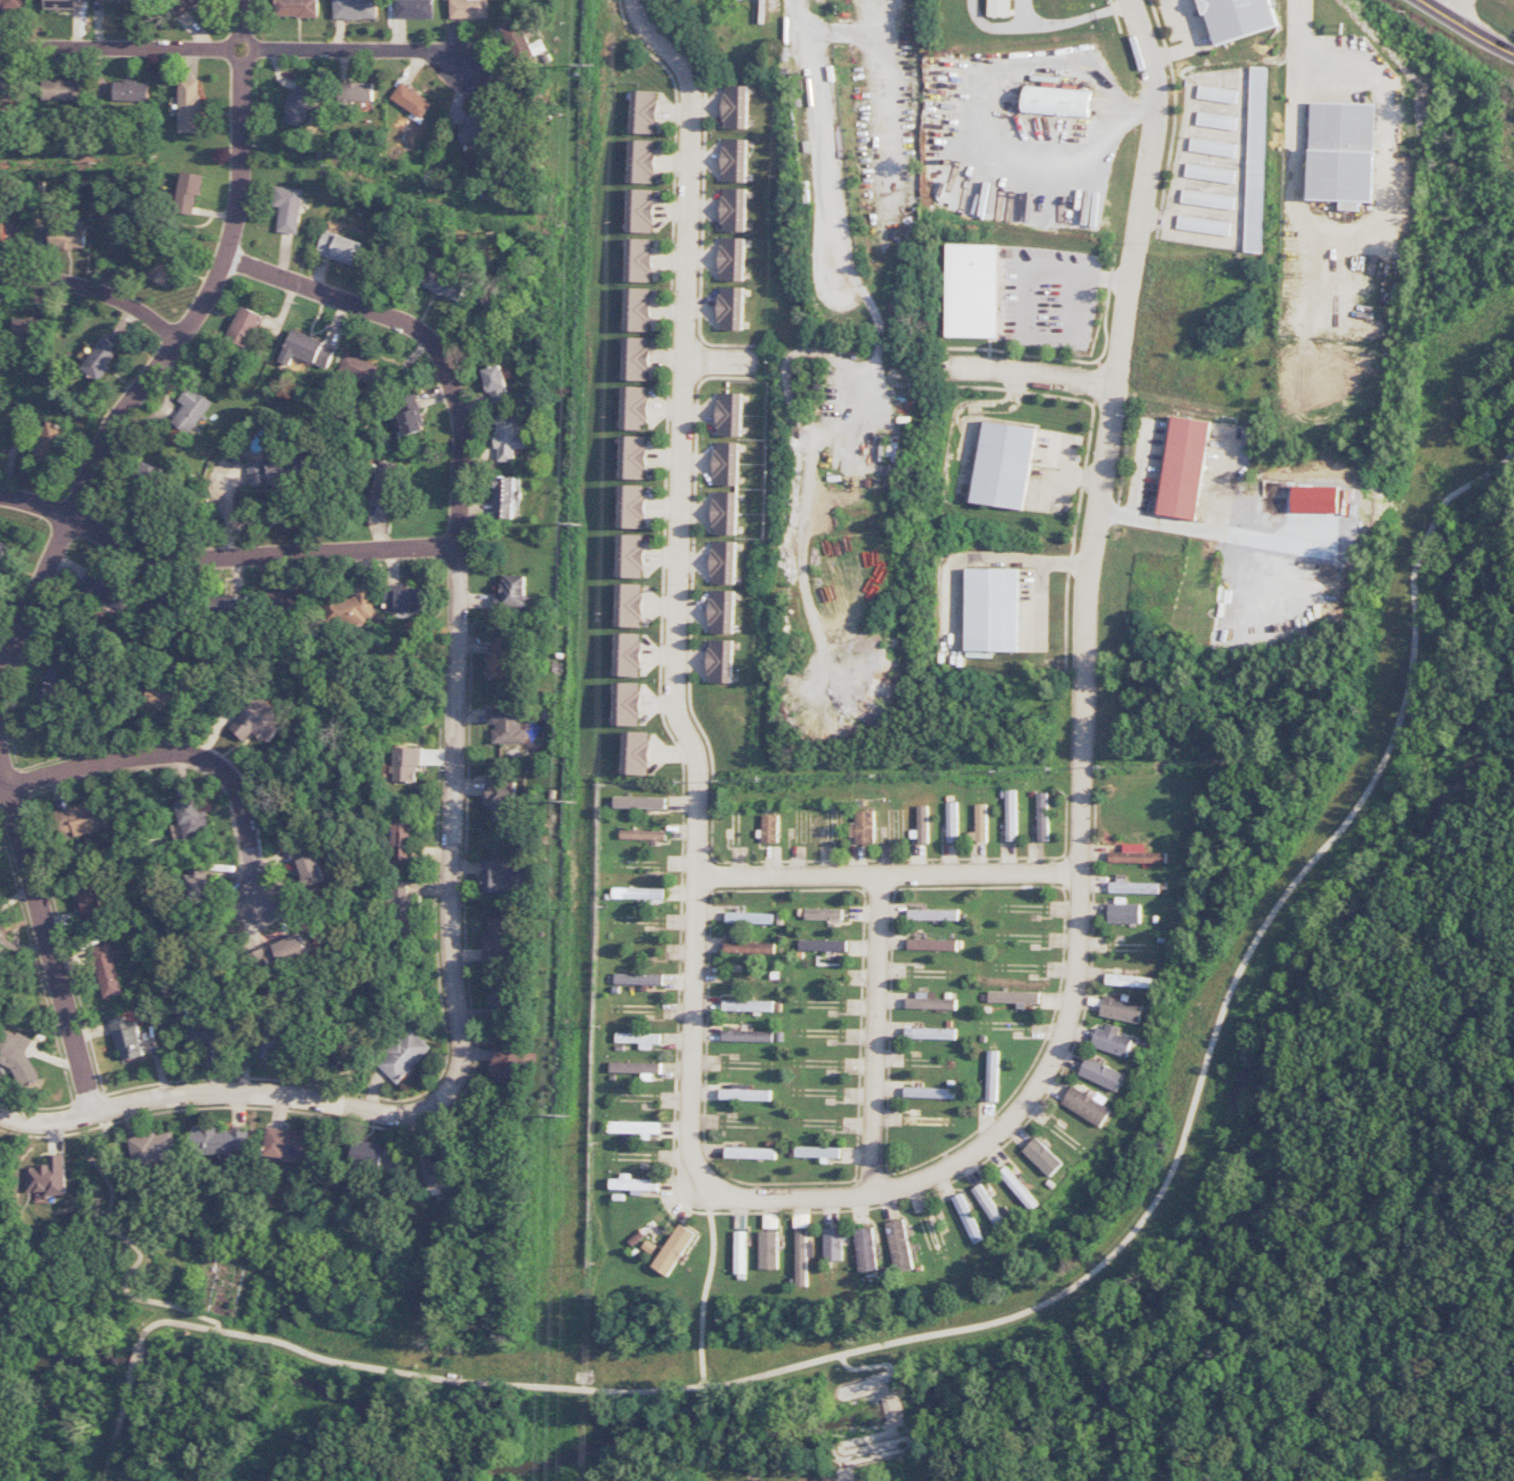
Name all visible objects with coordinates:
building: (114, 0)
building: (11, 4)
building: (63, 4)
building: (182, 6)
building: (298, 8)
building: (996, 8)
building: (355, 9)
building: (415, 9)
building: (469, 9)
road: (1460, 10)
parking lot: (1181, 18)
building: (1243, 19)
road: (1467, 29)
road: (1296, 32)
building: (519, 43)
road: (1196, 43)
road: (231, 47)
building: (9, 89)
building: (62, 90)
building: (131, 90)
building: (358, 92)
building: (1216, 94)
building: (411, 100)
building: (1056, 102)
road: (892, 103)
building: (298, 105)
building: (190, 106)
building: (735, 107)
building: (644, 112)
building: (1215, 120)
building: (475, 130)
building: (1212, 147)
building: (1341, 153)
building: (1255, 159)
building: (734, 160)
building: (642, 161)
building: (1209, 173)
building: (188, 191)
building: (1207, 199)
building: (288, 209)
building: (732, 210)
building: (641, 211)
road: (1373, 222)
building: (1203, 225)
building: (3, 232)
building: (69, 237)
building: (340, 248)
building: (731, 259)
building: (639, 260)
building: (165, 266)
building: (445, 285)
road: (95, 287)
building: (970, 291)
building: (730, 308)
building: (638, 309)
building: (244, 327)
building: (29, 328)
building: (307, 350)
road: (878, 352)
road: (168, 356)
building: (100, 359)
building: (637, 359)
road: (722, 363)
building: (358, 368)
road: (1032, 373)
building: (497, 384)
building: (636, 408)
building: (192, 409)
building: (728, 414)
building: (408, 417)
building: (509, 437)
building: (48, 444)
building: (634, 457)
building: (725, 464)
building: (1002, 465)
building: (1185, 468)
building: (276, 472)
building: (149, 479)
building: (383, 484)
building: (506, 497)
building: (633, 507)
building: (724, 513)
building: (3, 553)
road: (231, 555)
building: (632, 556)
building: (722, 562)
road: (671, 588)
building: (106, 589)
building: (512, 592)
building: (291, 599)
building: (403, 599)
building: (354, 605)
building: (630, 605)
building: (161, 606)
building: (232, 606)
building: (990, 610)
building: (721, 612)
road: (465, 640)
building: (629, 655)
building: (500, 658)
building: (720, 661)
building: (54, 675)
building: (165, 697)
building: (628, 704)
building: (259, 720)
road: (1081, 730)
building: (637, 753)
road: (198, 759)
building: (406, 764)
building: (502, 797)
building: (639, 802)
building: (1009, 814)
building: (192, 816)
building: (84, 817)
building: (1042, 817)
building: (950, 822)
building: (979, 823)
building: (921, 824)
building: (861, 827)
building: (767, 828)
building: (642, 835)
building: (402, 839)
building: (1137, 855)
building: (308, 866)
building: (496, 877)
road: (956, 878)
building: (199, 881)
building: (398, 887)
building: (1133, 887)
building: (636, 893)
building: (403, 909)
building: (1124, 912)
road: (41, 913)
building: (822, 914)
building: (932, 915)
building: (748, 918)
building: (496, 940)
building: (822, 945)
building: (932, 945)
building: (748, 948)
building: (287, 950)
building: (107, 970)
building: (637, 979)
building: (1130, 981)
building: (1013, 997)
building: (499, 1005)
building: (746, 1006)
building: (1121, 1009)
building: (930, 1033)
road: (884, 1034)
building: (746, 1036)
building: (127, 1039)
building: (638, 1039)
building: (205, 1041)
building: (1112, 1041)
building: (275, 1042)
building: (17, 1057)
building: (404, 1057)
building: (509, 1067)
building: (634, 1067)
building: (1101, 1074)
building: (991, 1076)
building: (928, 1093)
building: (743, 1094)
road: (196, 1100)
building: (1087, 1105)
building: (926, 1121)
building: (635, 1128)
building: (220, 1140)
building: (290, 1144)
building: (153, 1147)
building: (817, 1152)
building: (750, 1153)
building: (367, 1154)
building: (1043, 1157)
building: (436, 1173)
building: (46, 1178)
building: (633, 1184)
building: (1018, 1188)
building: (990, 1208)
building: (968, 1218)
building: (801, 1220)
building: (771, 1221)
road: (129, 1241)
building: (833, 1244)
building: (900, 1246)
building: (673, 1250)
building: (769, 1250)
building: (866, 1250)
building: (741, 1255)
building: (803, 1256)
road: (1075, 1283)
road: (706, 1288)
road: (134, 1361)
road: (116, 1427)
road: (892, 1430)
road: (839, 1476)

